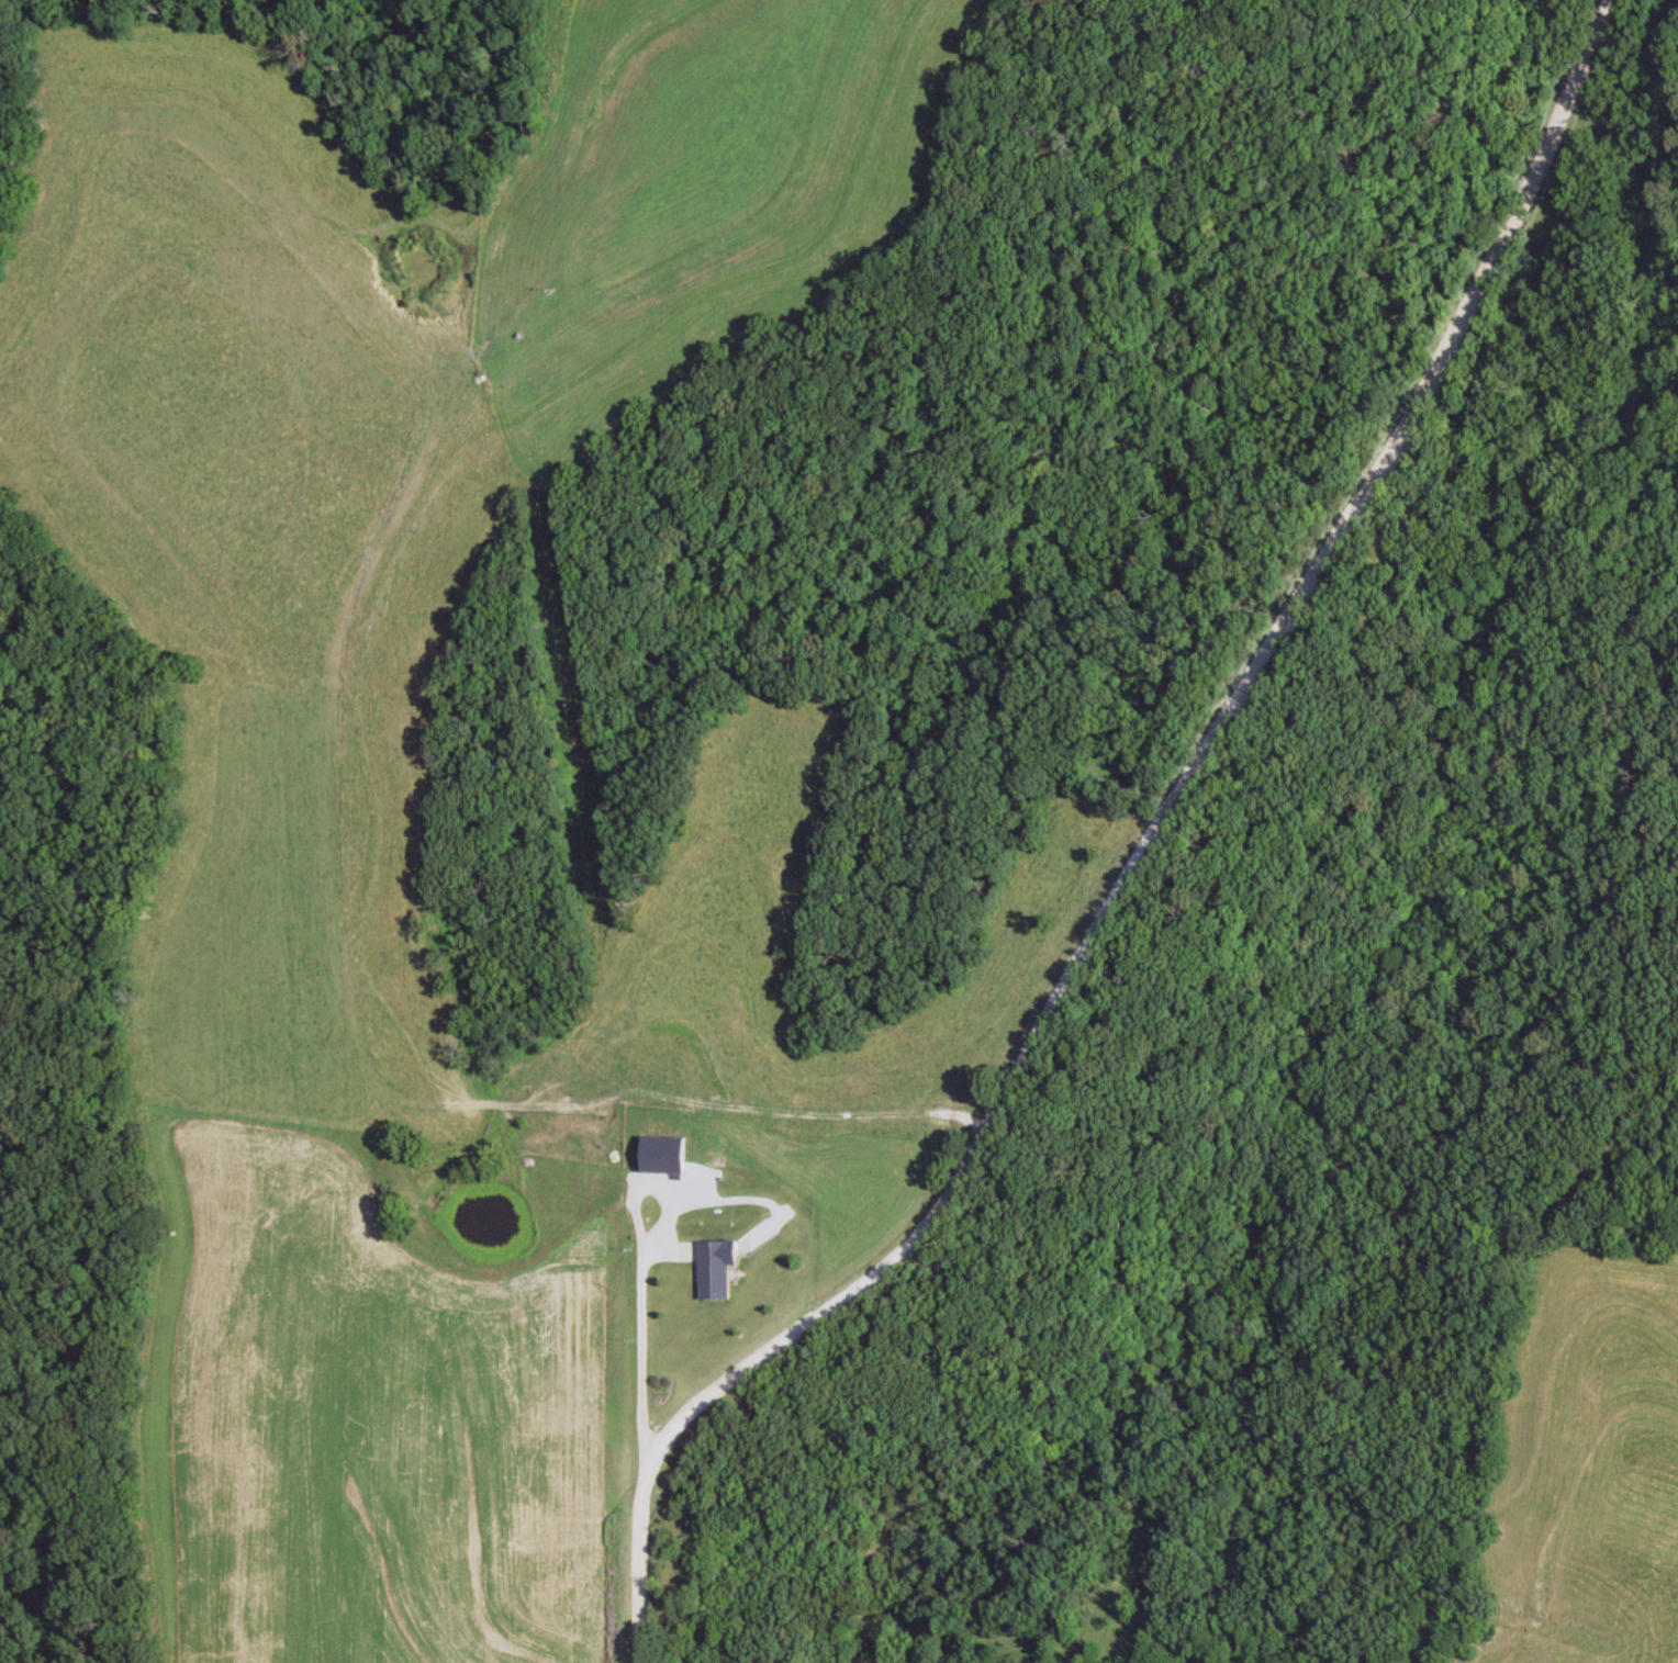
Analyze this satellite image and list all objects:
road: (1132, 858)
building: (719, 1268)
road: (636, 1284)

